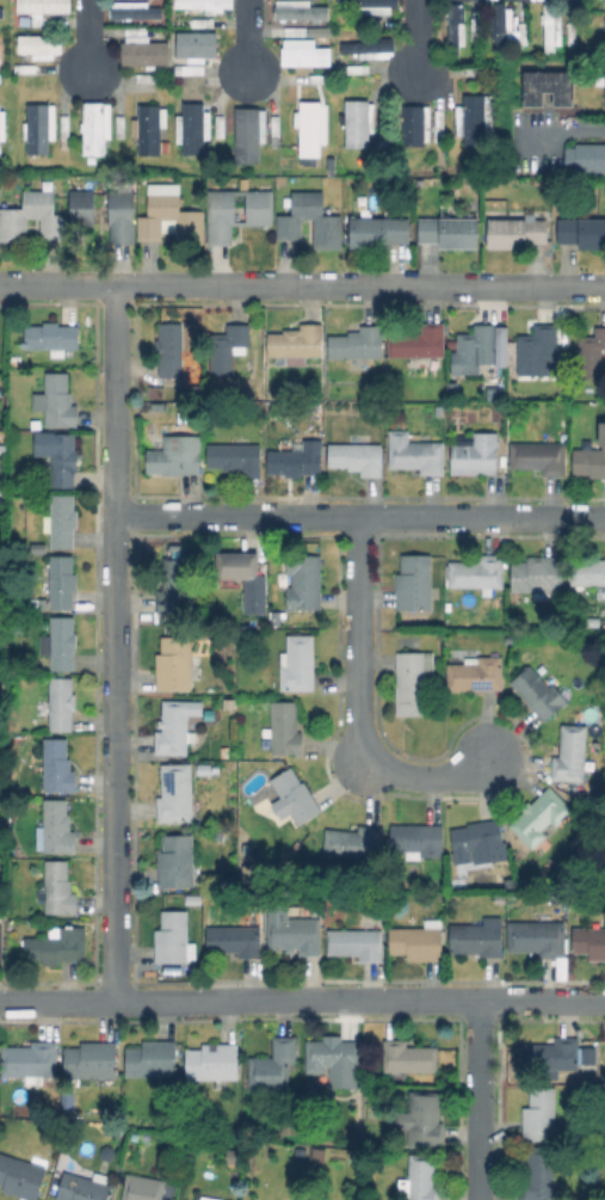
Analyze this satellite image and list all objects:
building: (603, 1)
building: (364, 2)
building: (47, 6)
building: (204, 6)
building: (134, 10)
building: (301, 10)
building: (1, 13)
building: (44, 20)
building: (203, 21)
building: (371, 21)
building: (457, 26)
building: (475, 29)
building: (498, 29)
building: (136, 30)
building: (603, 30)
building: (550, 31)
building: (296, 32)
building: (570, 33)
road: (88, 37)
road: (249, 37)
road: (418, 37)
building: (41, 45)
building: (196, 47)
building: (370, 48)
building: (144, 51)
building: (304, 55)
building: (29, 68)
building: (358, 68)
building: (186, 69)
building: (0, 76)
building: (148, 78)
building: (321, 78)
building: (544, 87)
building: (603, 91)
building: (474, 118)
building: (358, 122)
building: (2, 124)
building: (416, 124)
building: (121, 125)
building: (439, 125)
building: (39, 127)
building: (95, 127)
building: (220, 127)
building: (149, 128)
building: (193, 128)
building: (66, 130)
building: (276, 130)
road: (581, 130)
building: (384, 131)
building: (311, 133)
building: (248, 134)
building: (480, 153)
building: (582, 158)
building: (329, 165)
building: (105, 211)
building: (237, 211)
building: (32, 215)
building: (171, 219)
building: (327, 228)
building: (378, 232)
building: (450, 232)
building: (516, 233)
building: (582, 233)
road: (302, 284)
building: (53, 338)
building: (296, 343)
building: (358, 344)
building: (227, 346)
building: (420, 346)
building: (169, 349)
building: (476, 349)
building: (537, 350)
building: (592, 356)
building: (14, 359)
building: (438, 393)
building: (452, 393)
building: (494, 393)
building: (56, 401)
building: (158, 405)
building: (315, 407)
building: (36, 424)
building: (416, 453)
building: (476, 454)
building: (236, 456)
building: (174, 457)
building: (358, 457)
building: (539, 457)
building: (297, 459)
building: (63, 460)
building: (591, 460)
building: (2, 501)
road: (360, 516)
building: (61, 521)
building: (235, 567)
building: (587, 571)
building: (477, 572)
building: (539, 577)
building: (60, 581)
building: (305, 583)
building: (414, 583)
building: (174, 586)
building: (591, 619)
building: (277, 623)
road: (360, 639)
building: (62, 642)
road: (116, 642)
building: (298, 663)
building: (174, 664)
building: (475, 672)
building: (410, 683)
rooftop solar panel: (479, 683)
building: (538, 693)
building: (61, 703)
building: (230, 704)
building: (175, 727)
building: (285, 727)
building: (570, 753)
building: (58, 767)
road: (424, 769)
rooftop solar panel: (167, 781)
building: (36, 789)
building: (175, 794)
building: (580, 794)
building: (294, 796)
building: (542, 814)
building: (57, 827)
building: (215, 827)
building: (418, 839)
building: (353, 842)
rooftop solar panel: (468, 842)
building: (479, 842)
rooftop solar panel: (481, 845)
rooftop solar panel: (482, 856)
building: (177, 861)
building: (511, 881)
building: (57, 888)
building: (561, 896)
building: (500, 899)
building: (294, 930)
building: (477, 937)
building: (537, 937)
building: (173, 939)
building: (235, 940)
building: (419, 941)
building: (589, 941)
building: (357, 943)
building: (56, 944)
road: (302, 1001)
building: (552, 1054)
building: (408, 1057)
building: (152, 1058)
building: (91, 1059)
building: (30, 1060)
building: (212, 1061)
building: (334, 1063)
building: (273, 1069)
road: (479, 1100)
building: (541, 1114)
building: (422, 1120)
building: (115, 1127)
building: (582, 1128)
building: (316, 1151)
building: (107, 1152)
building: (230, 1153)
building: (131, 1159)
building: (539, 1175)
building: (20, 1176)
building: (422, 1179)
building: (85, 1187)
building: (142, 1188)
building: (204, 1198)

